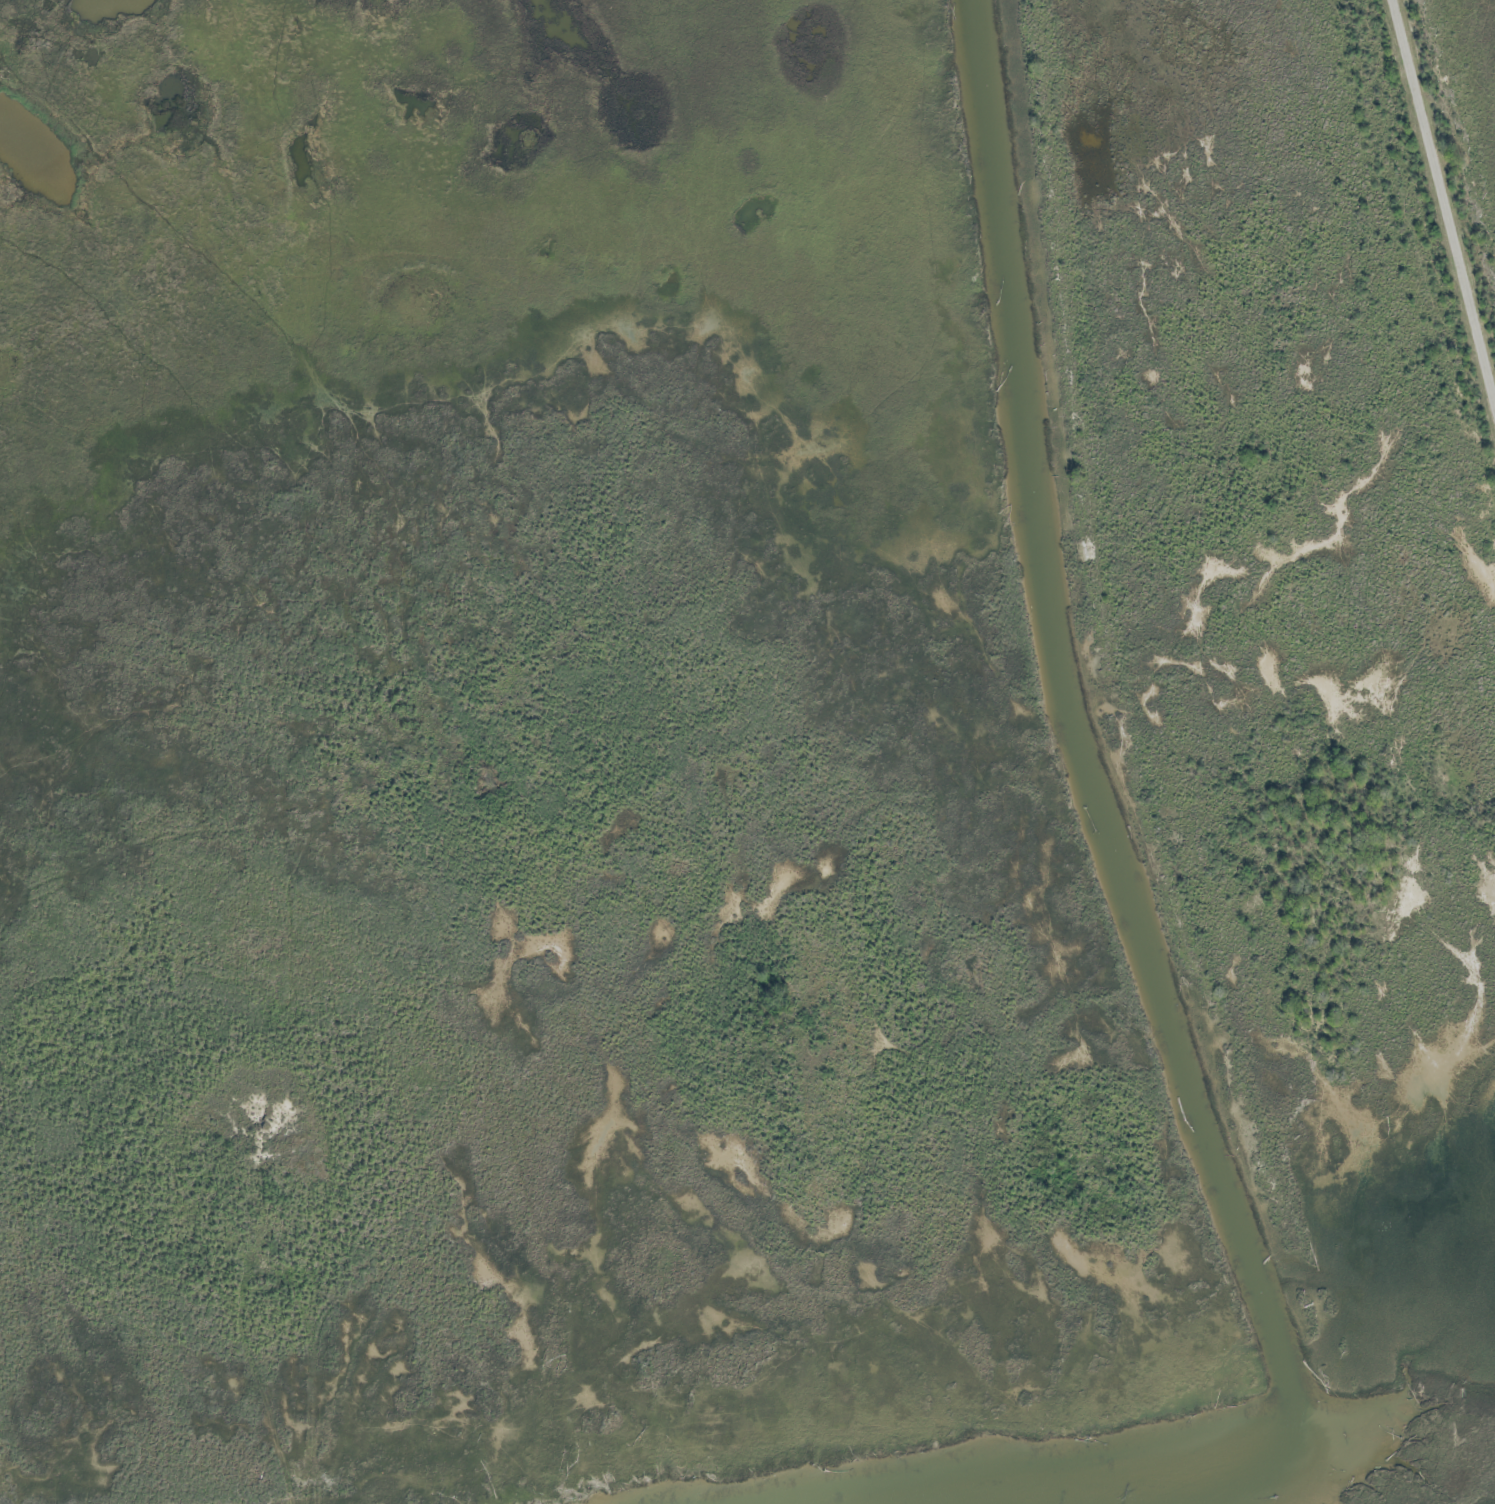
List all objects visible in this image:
road: (1444, 197)

